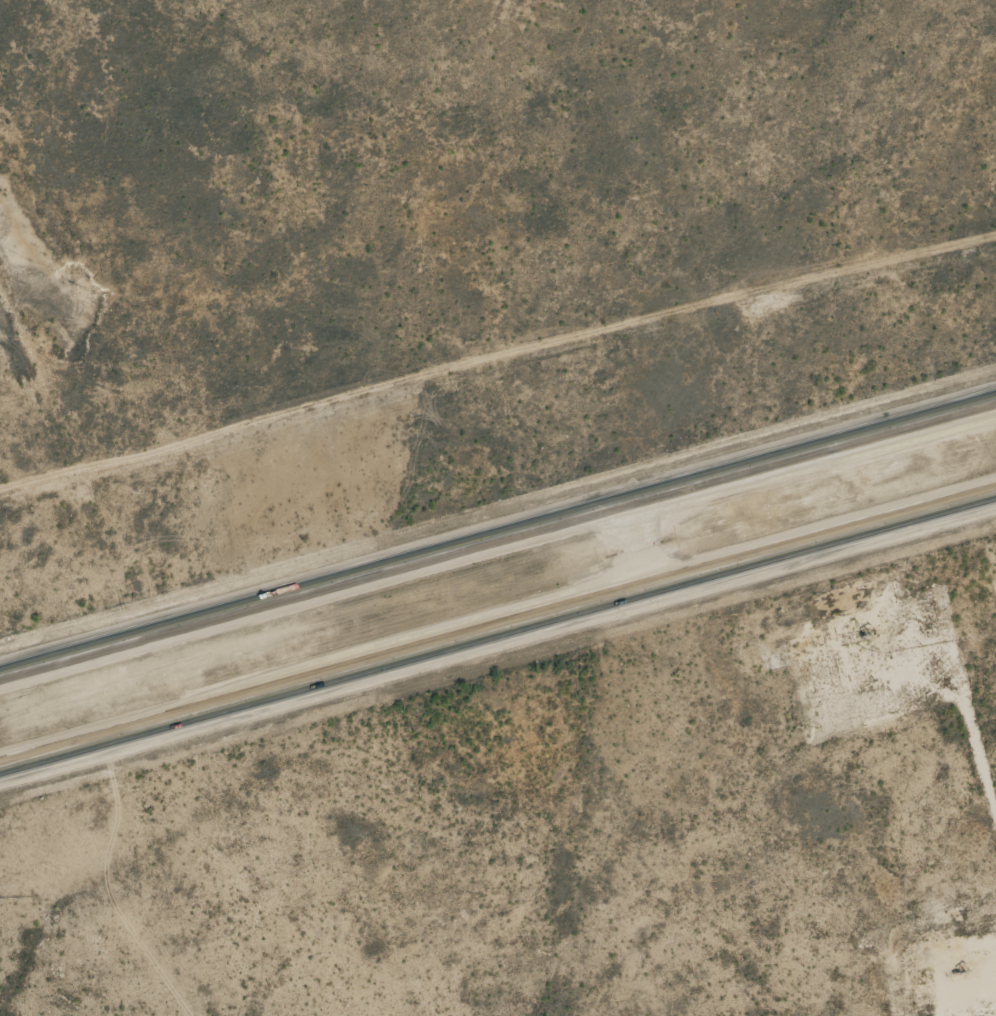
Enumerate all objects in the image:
road: (497, 537)
road: (637, 543)
road: (497, 626)
road: (954, 689)

